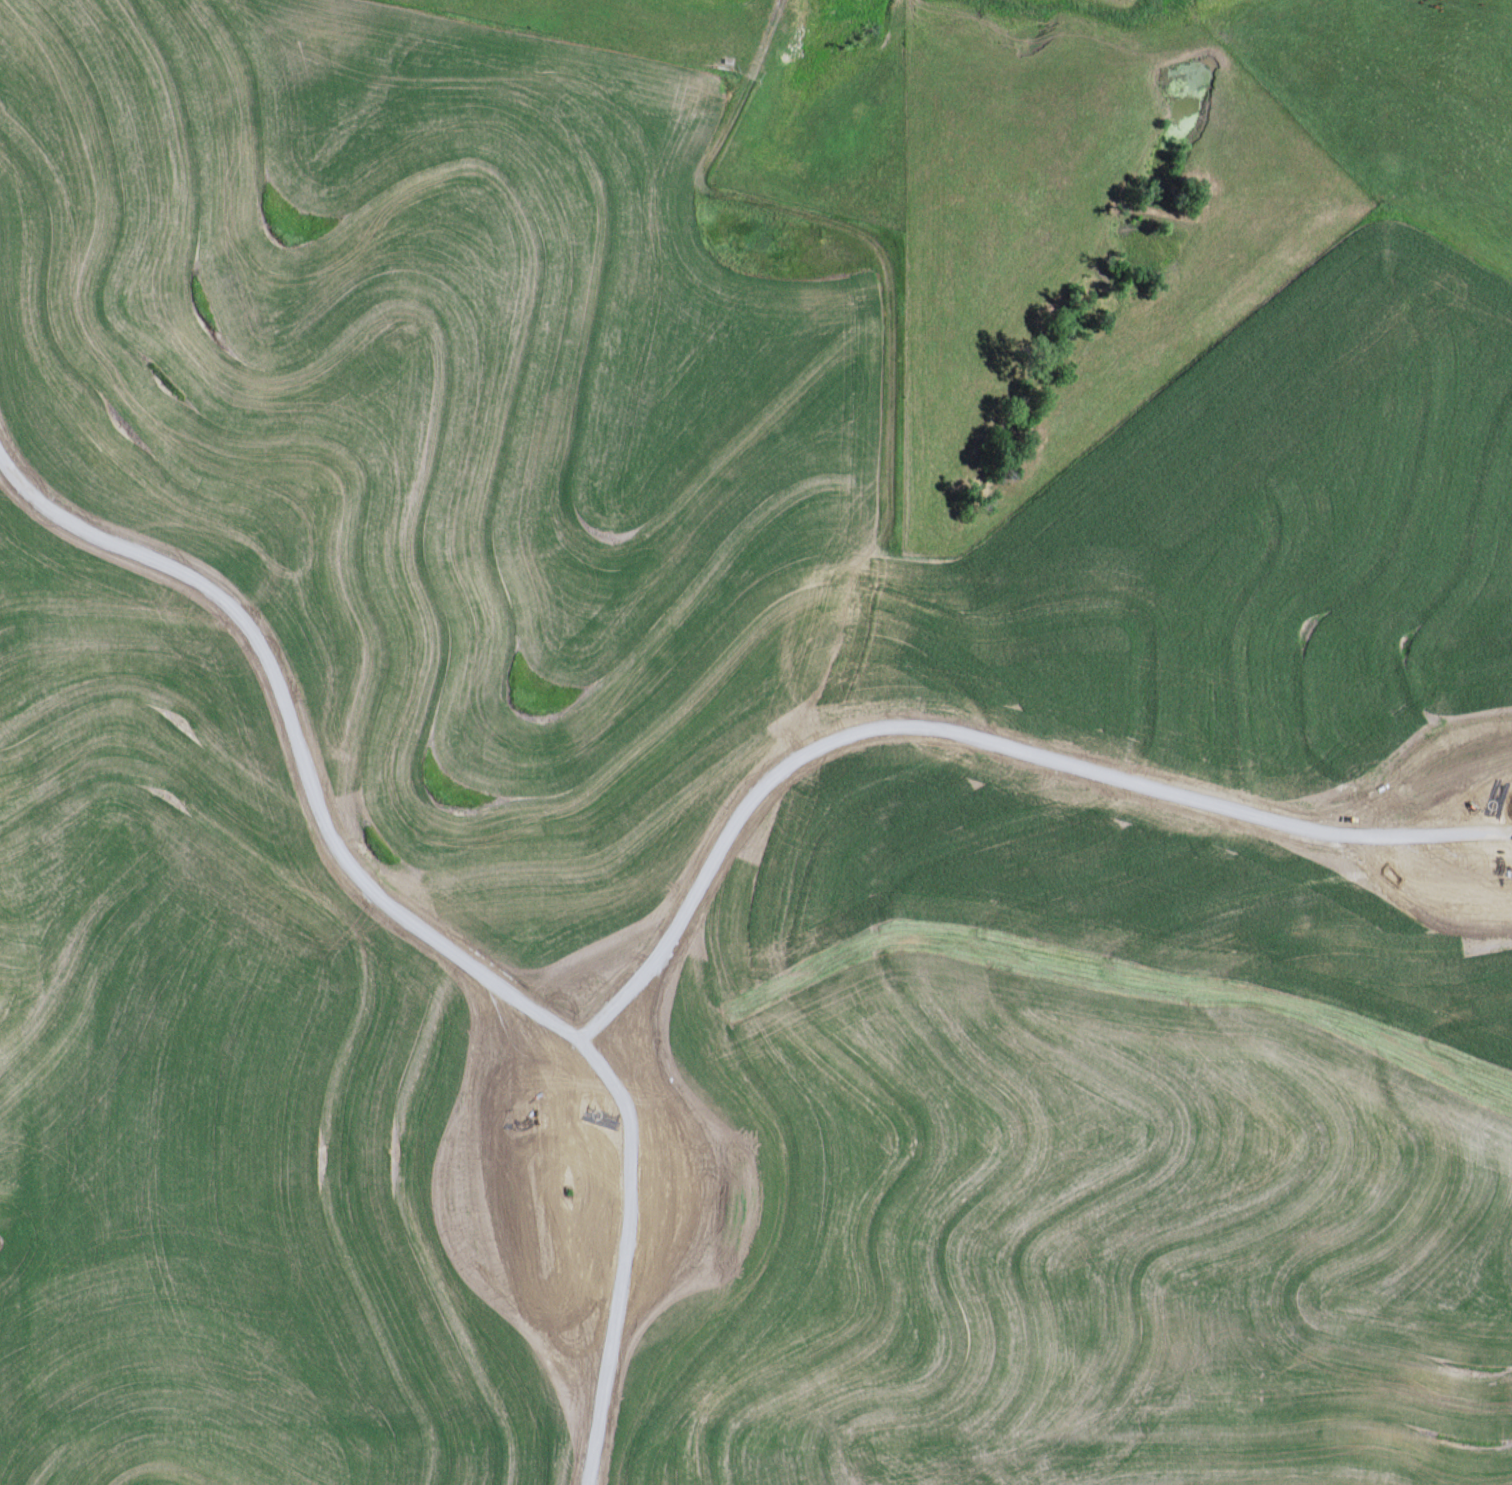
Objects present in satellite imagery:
wind turbine: (568, 1187)

